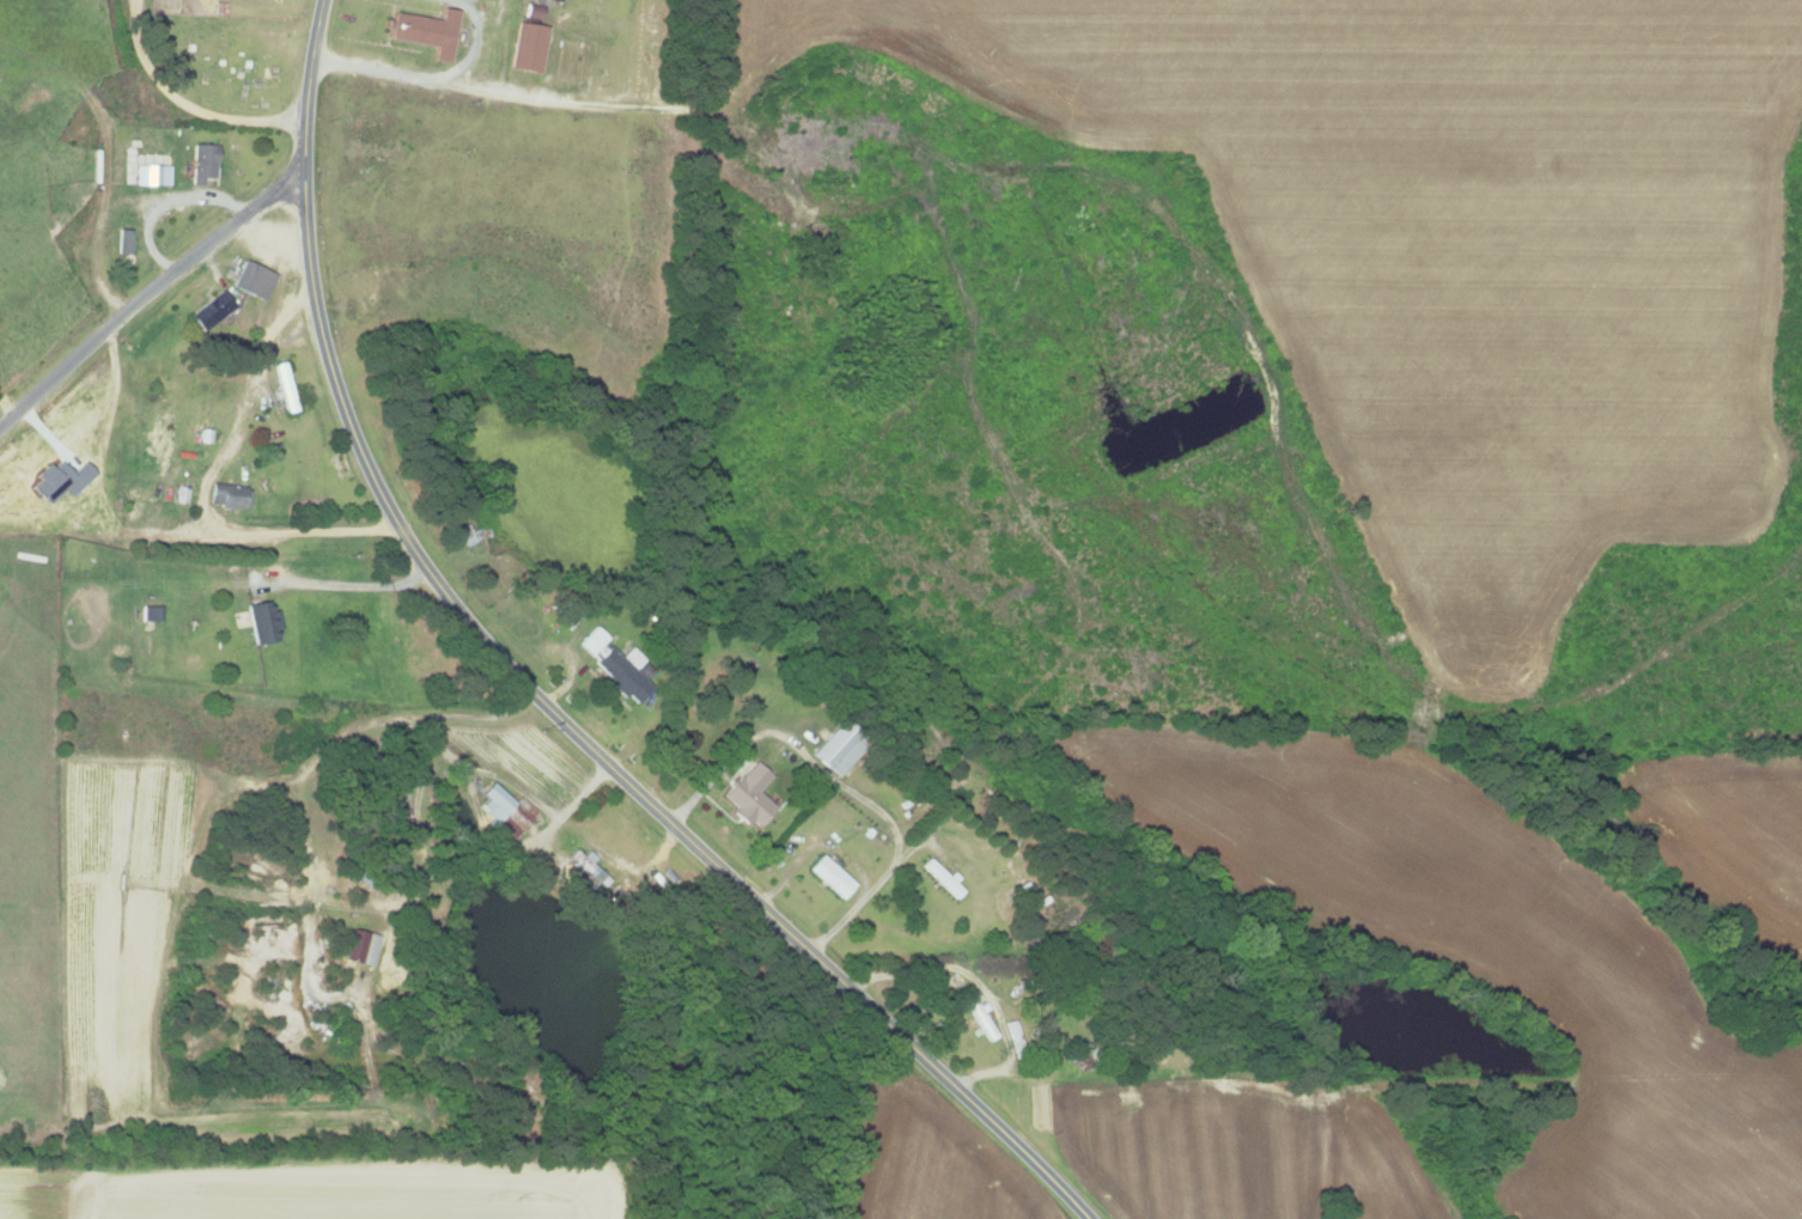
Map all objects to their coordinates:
building: (534, 11)
building: (424, 31)
road: (474, 43)
building: (528, 47)
road: (183, 102)
road: (1121, 133)
building: (201, 163)
building: (151, 175)
road: (162, 200)
road: (92, 238)
building: (122, 242)
building: (252, 280)
road: (150, 300)
building: (211, 311)
road: (156, 540)
road: (346, 584)
building: (263, 623)
building: (617, 664)
road: (532, 691)
building: (839, 745)
road: (841, 784)
building: (750, 794)
building: (505, 809)
park: (30, 823)
road: (817, 845)
building: (592, 871)
building: (830, 874)
building: (942, 876)
road: (973, 925)
building: (360, 946)
road: (985, 991)
crop: (299, 1191)

